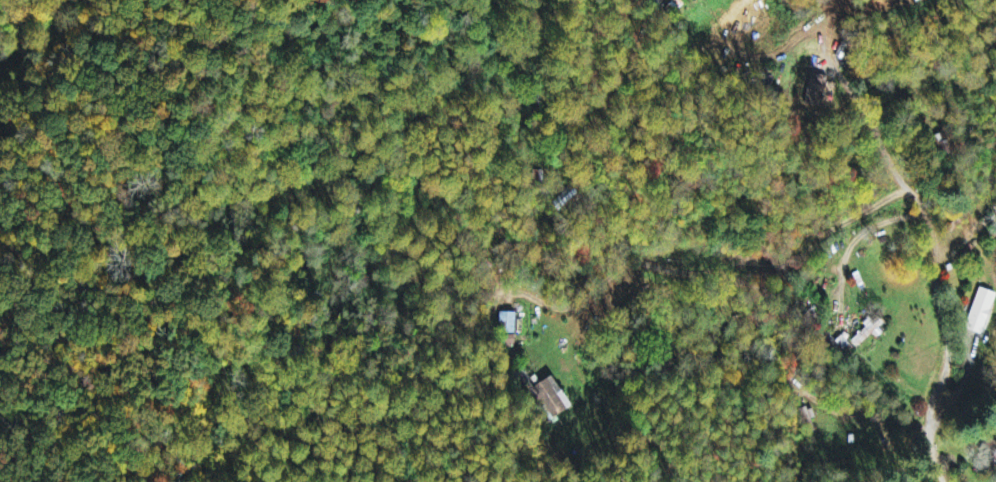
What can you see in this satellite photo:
building: (981, 312)
road: (42, 435)
road: (939, 472)

